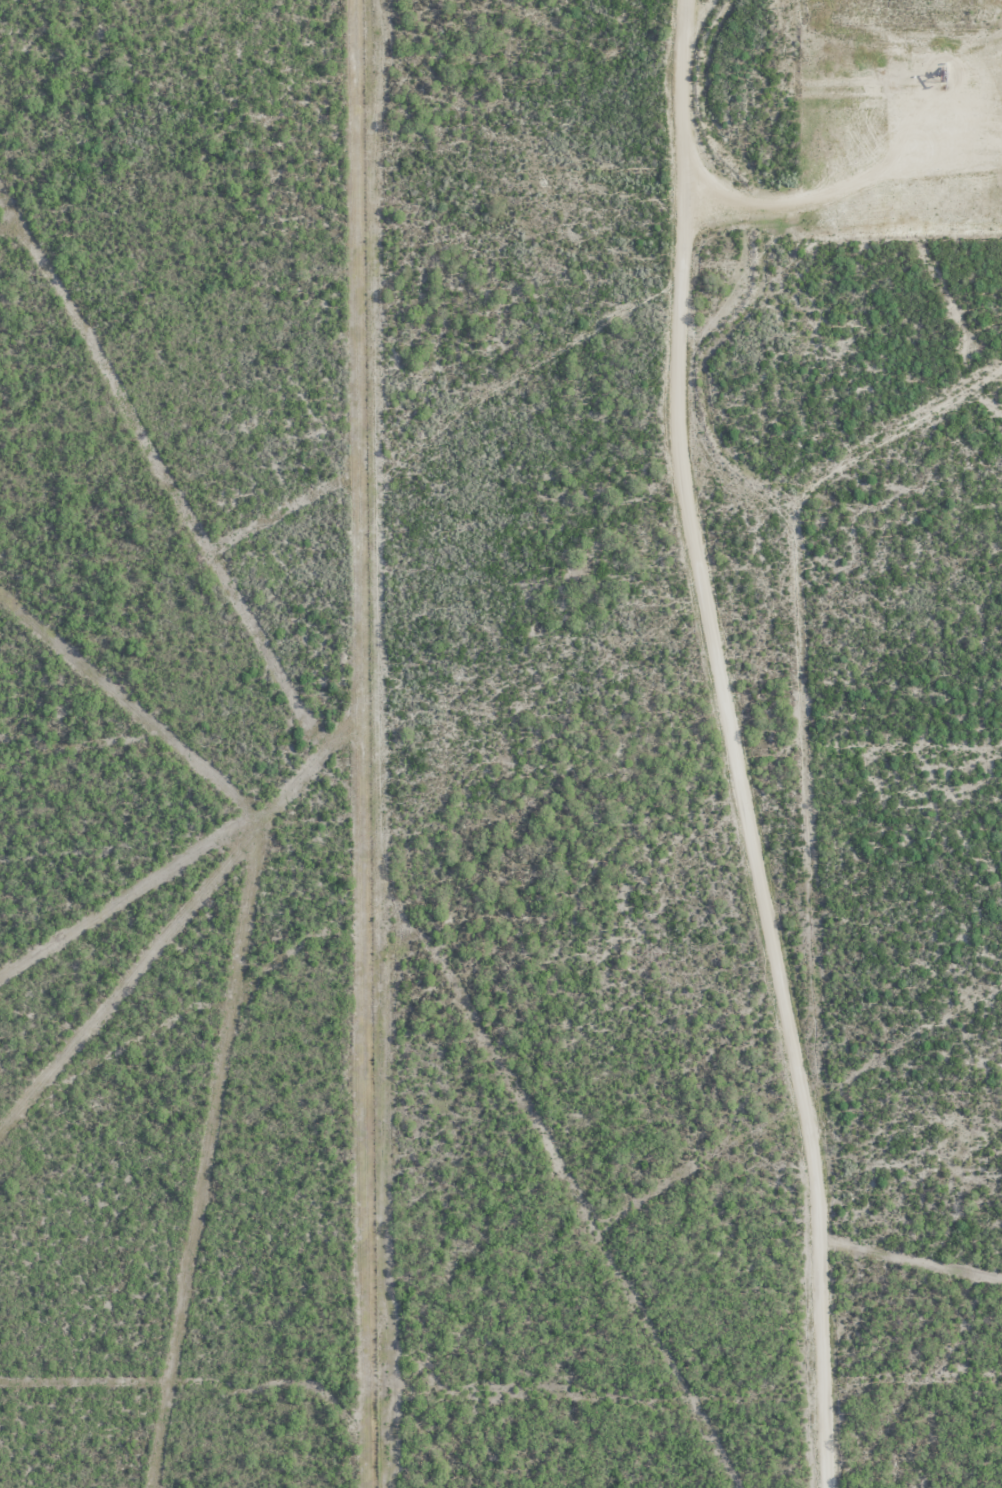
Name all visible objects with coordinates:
road: (819, 207)
road: (733, 744)

